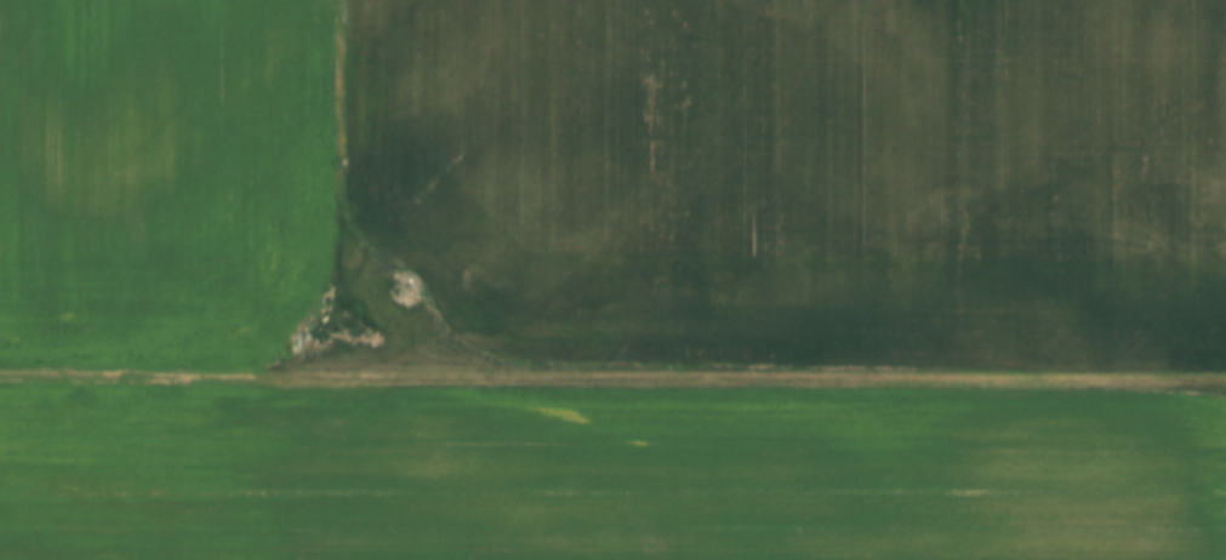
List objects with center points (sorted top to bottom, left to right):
road: (612, 382)

